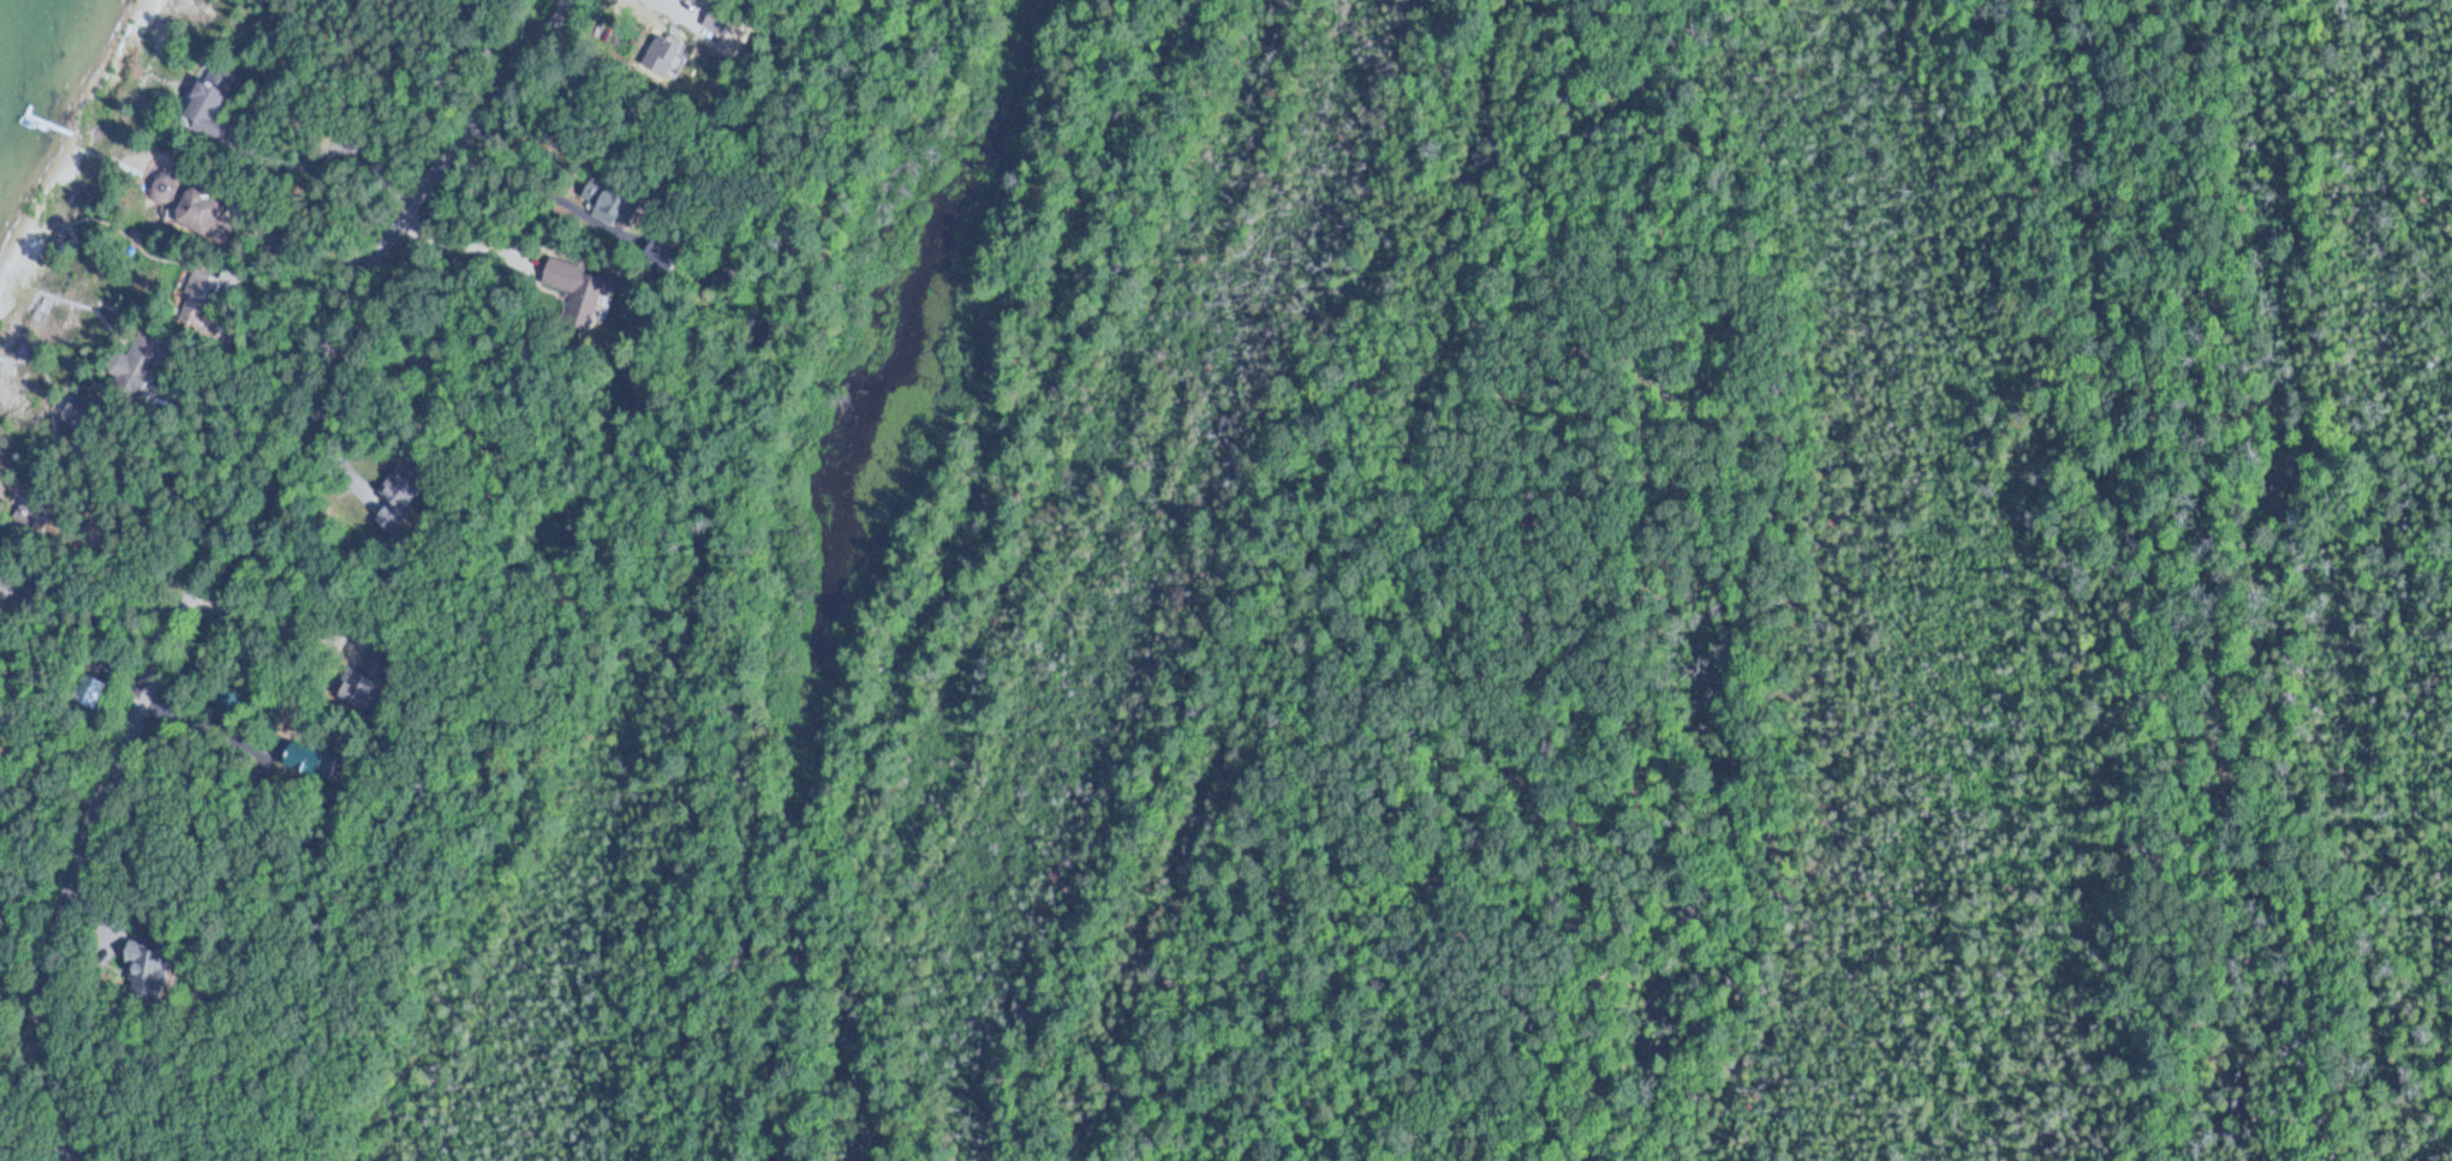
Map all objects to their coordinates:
building: (667, 54)
building: (215, 104)
building: (618, 203)
building: (205, 209)
building: (579, 289)
building: (196, 297)
building: (141, 359)
building: (84, 421)
building: (396, 497)
building: (34, 510)
road: (217, 543)
building: (364, 676)
building: (305, 759)
building: (149, 966)

